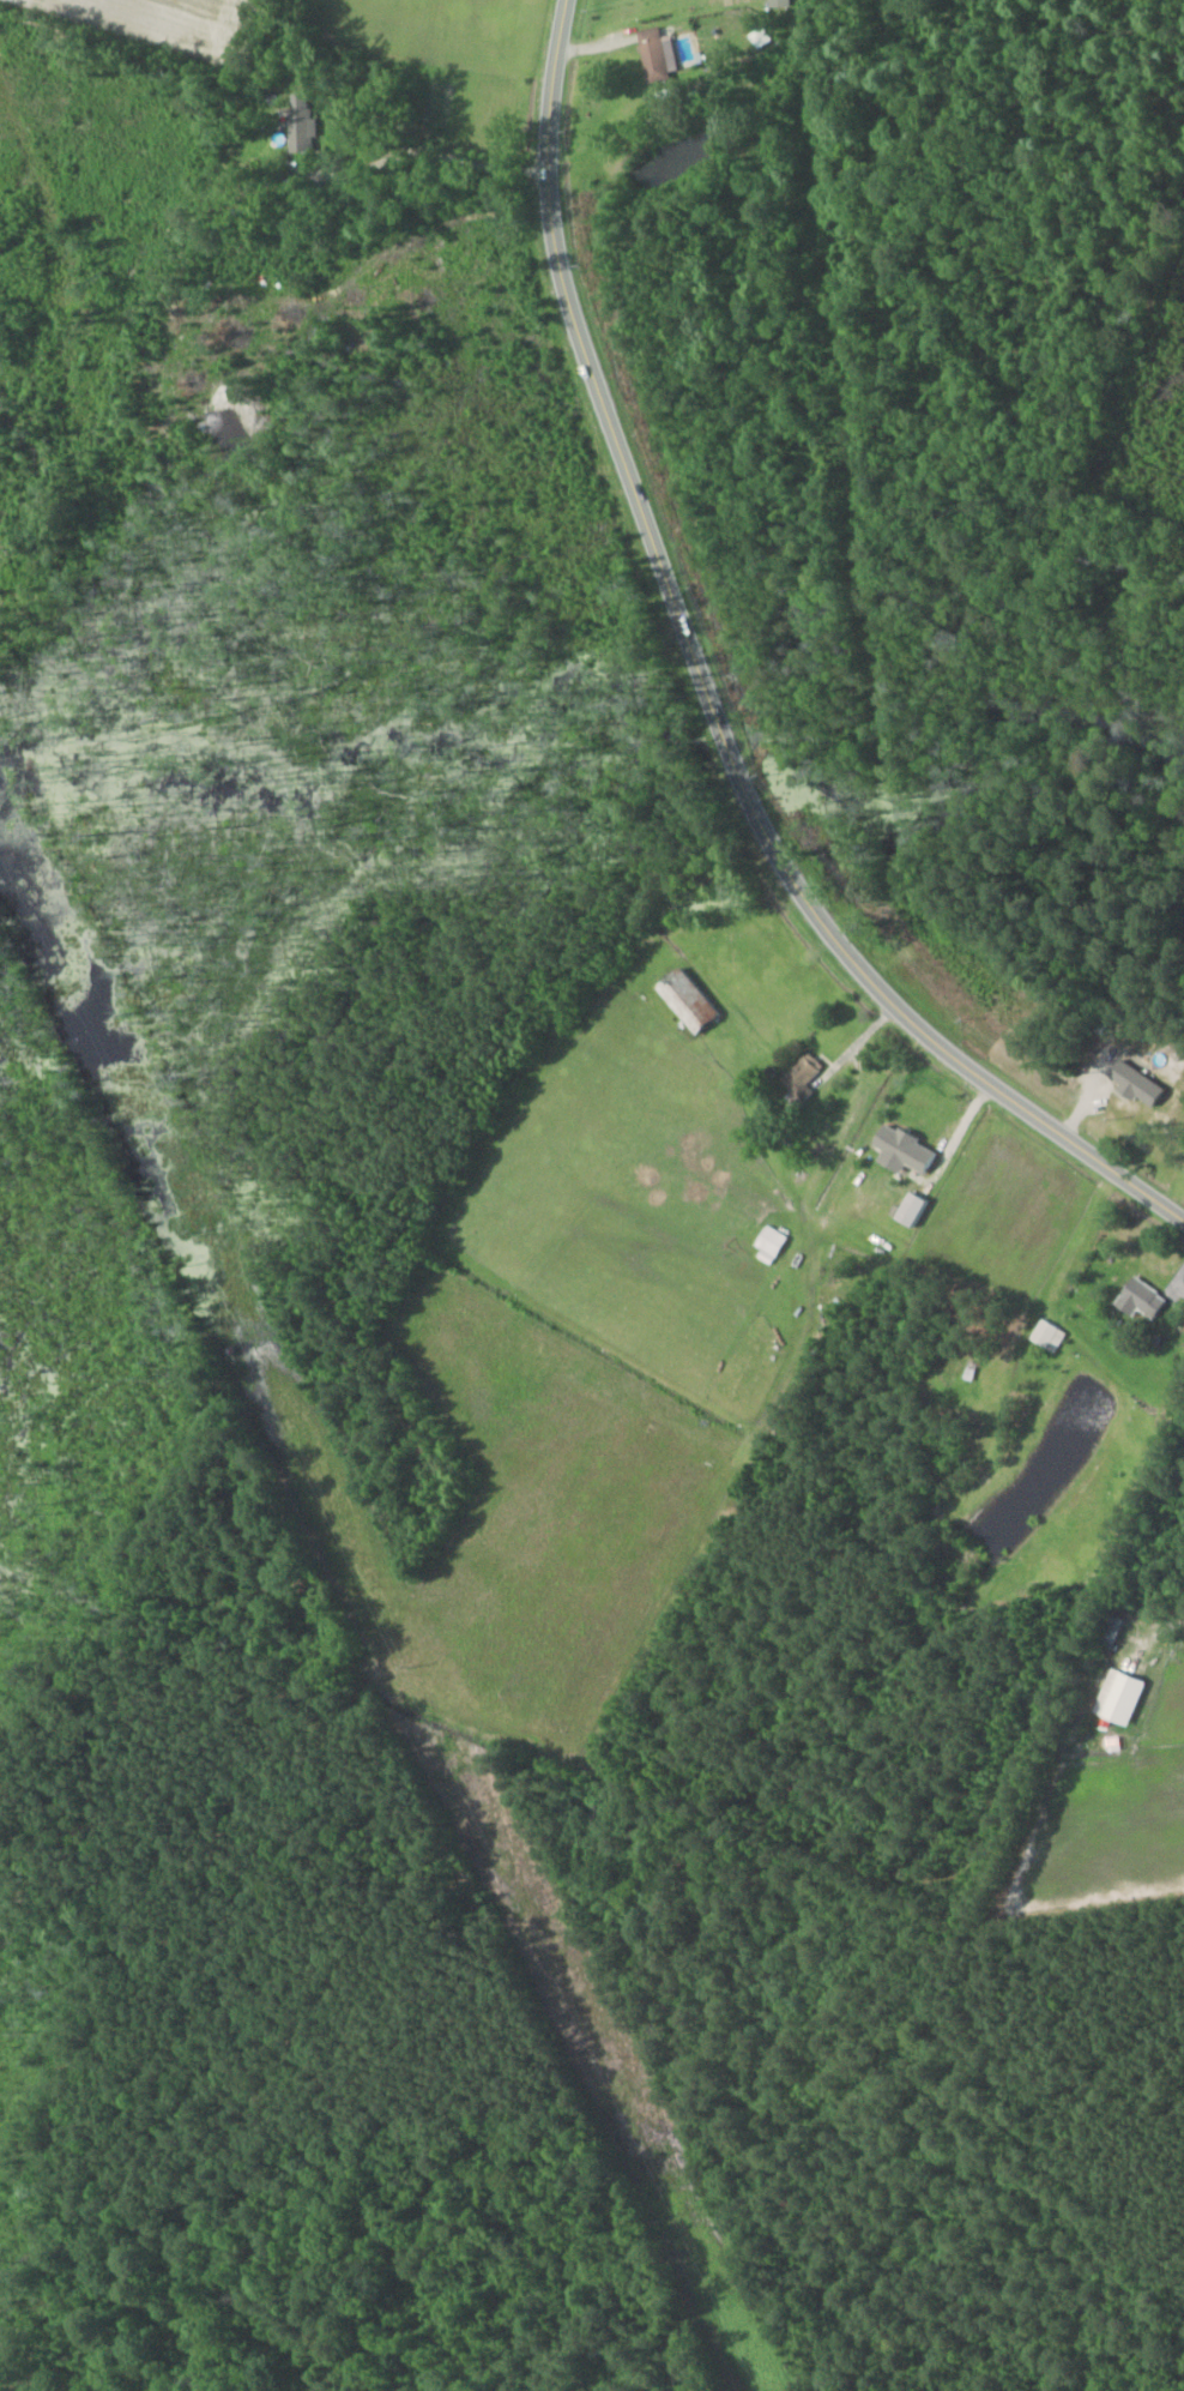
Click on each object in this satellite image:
building: (663, 54)
building: (307, 121)
road: (708, 697)
building: (683, 998)
building: (798, 1074)
building: (907, 1209)
building: (1135, 1299)
building: (1114, 1697)

